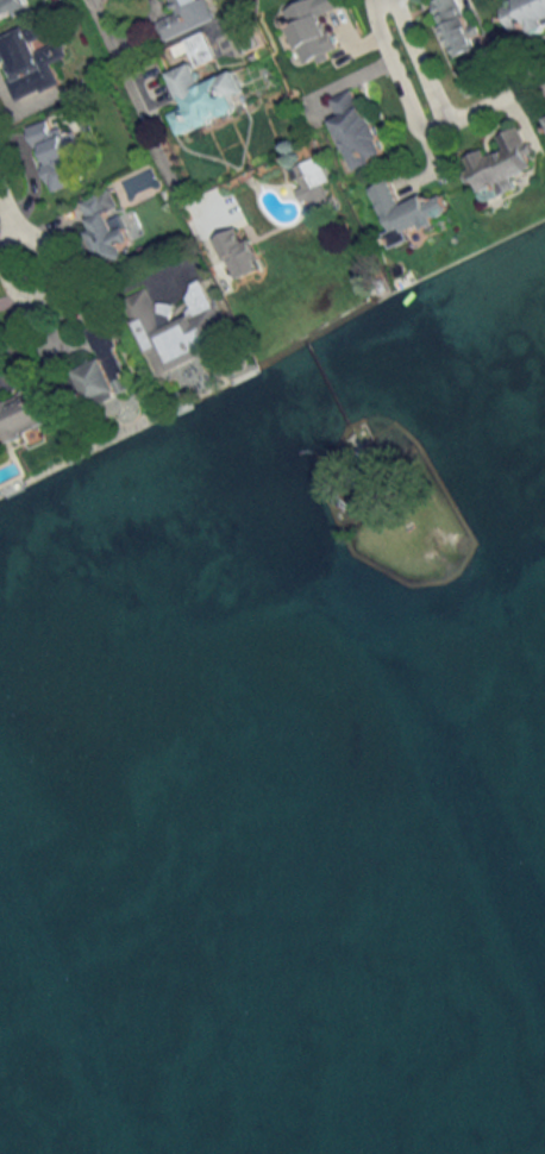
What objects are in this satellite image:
road: (374, 2)
building: (12, 7)
building: (525, 13)
building: (181, 18)
building: (312, 26)
building: (458, 26)
building: (31, 62)
building: (202, 87)
road: (132, 101)
building: (359, 130)
road: (425, 130)
building: (59, 155)
building: (501, 165)
building: (311, 182)
building: (408, 211)
building: (106, 226)
road: (12, 237)
building: (239, 252)
building: (178, 327)
building: (99, 372)
pier: (327, 381)

